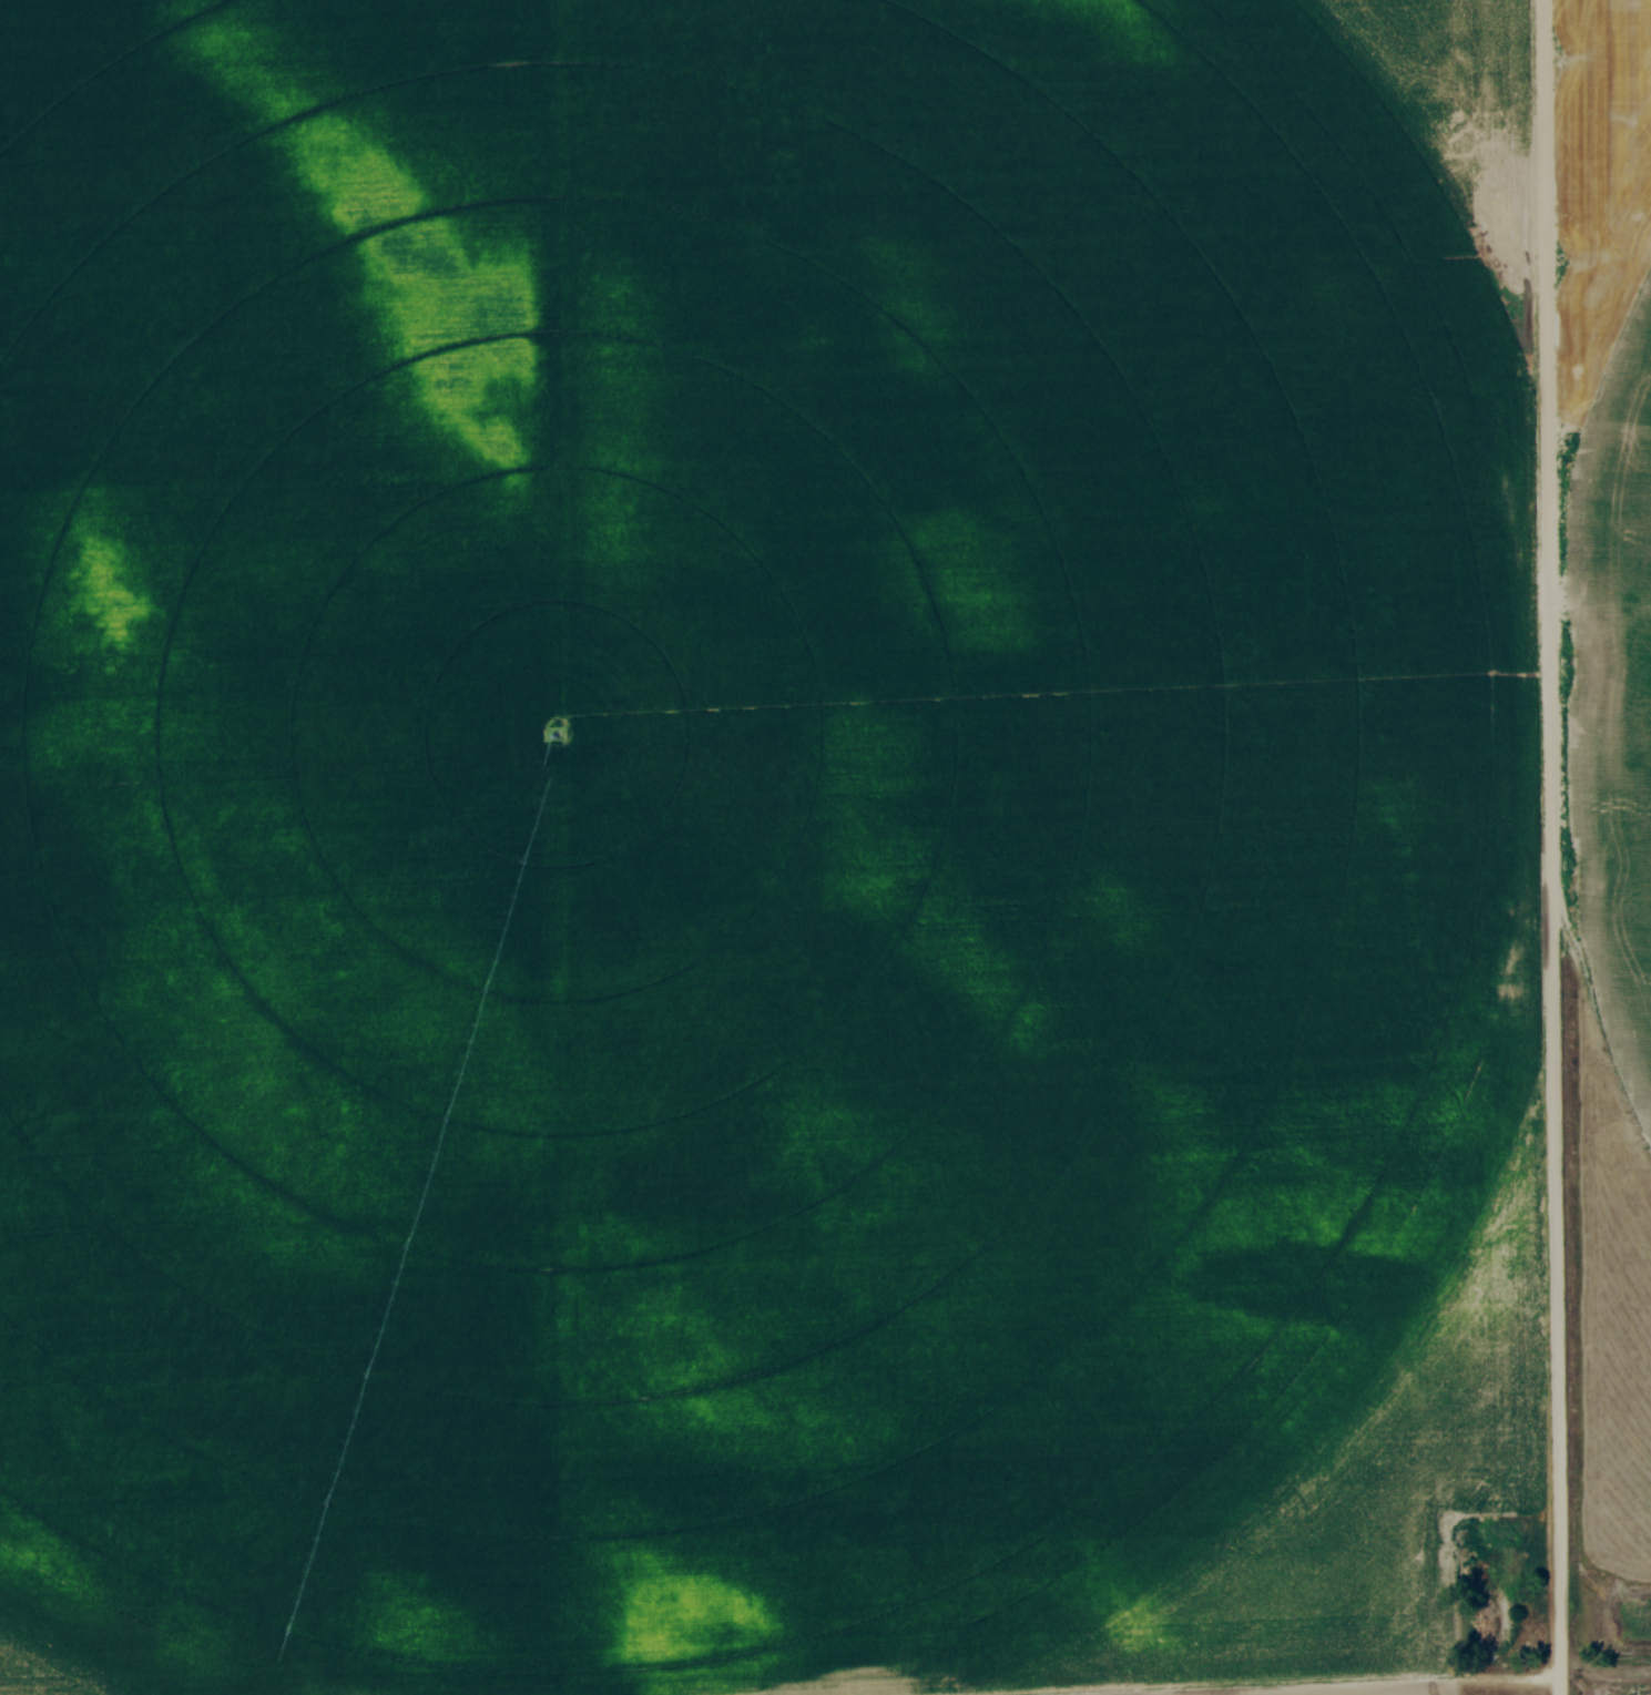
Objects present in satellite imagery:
crop: (1609, 500)
crop: (720, 821)
road: (1550, 847)
crop: (1366, 1691)

